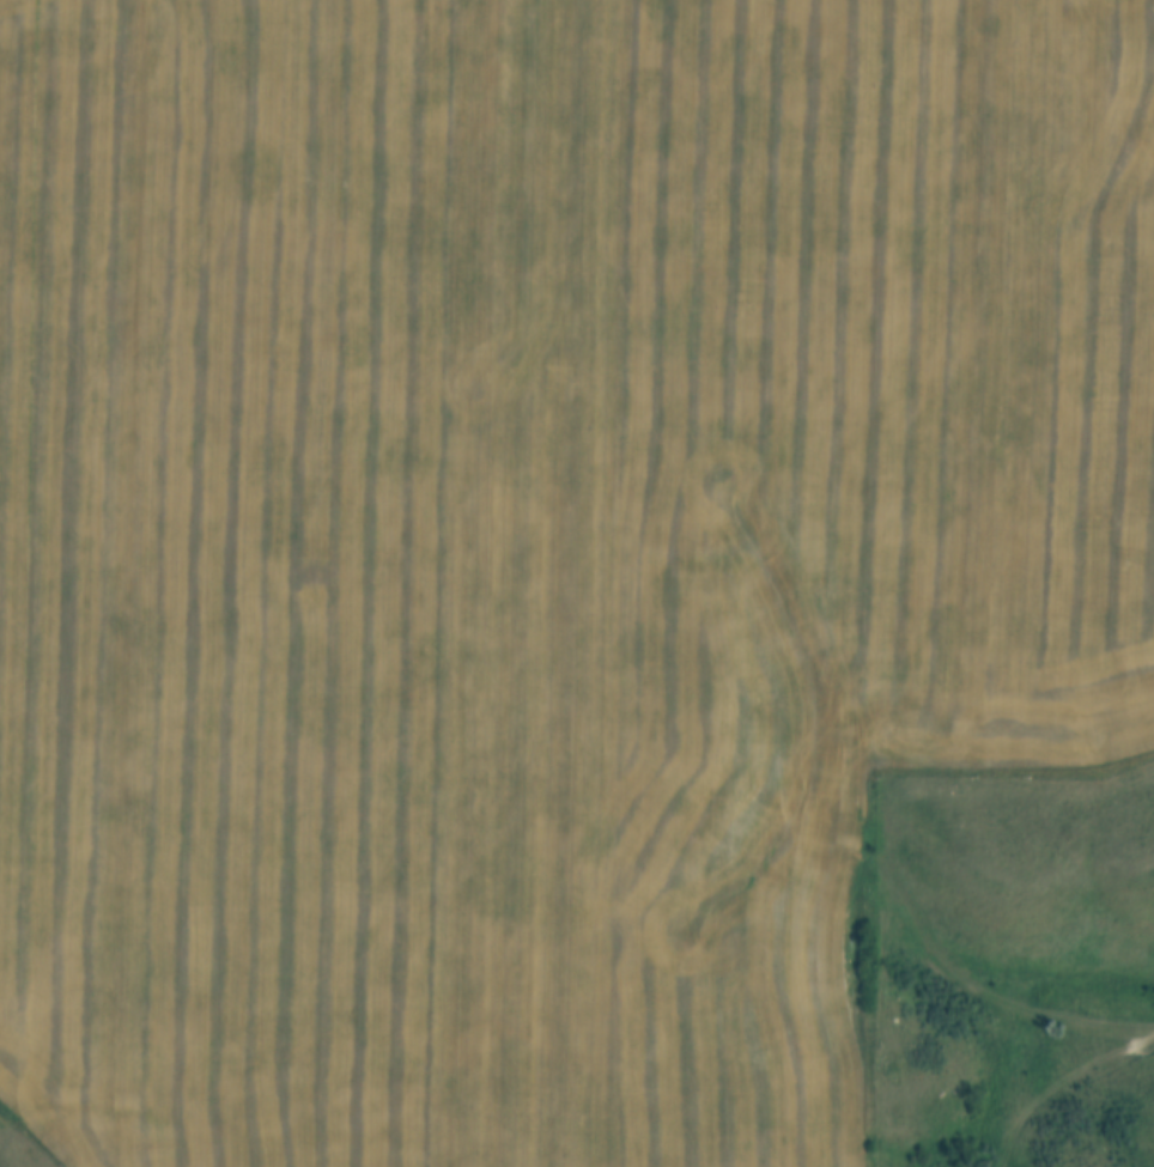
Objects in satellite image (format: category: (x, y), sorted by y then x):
road: (1149, 1038)

